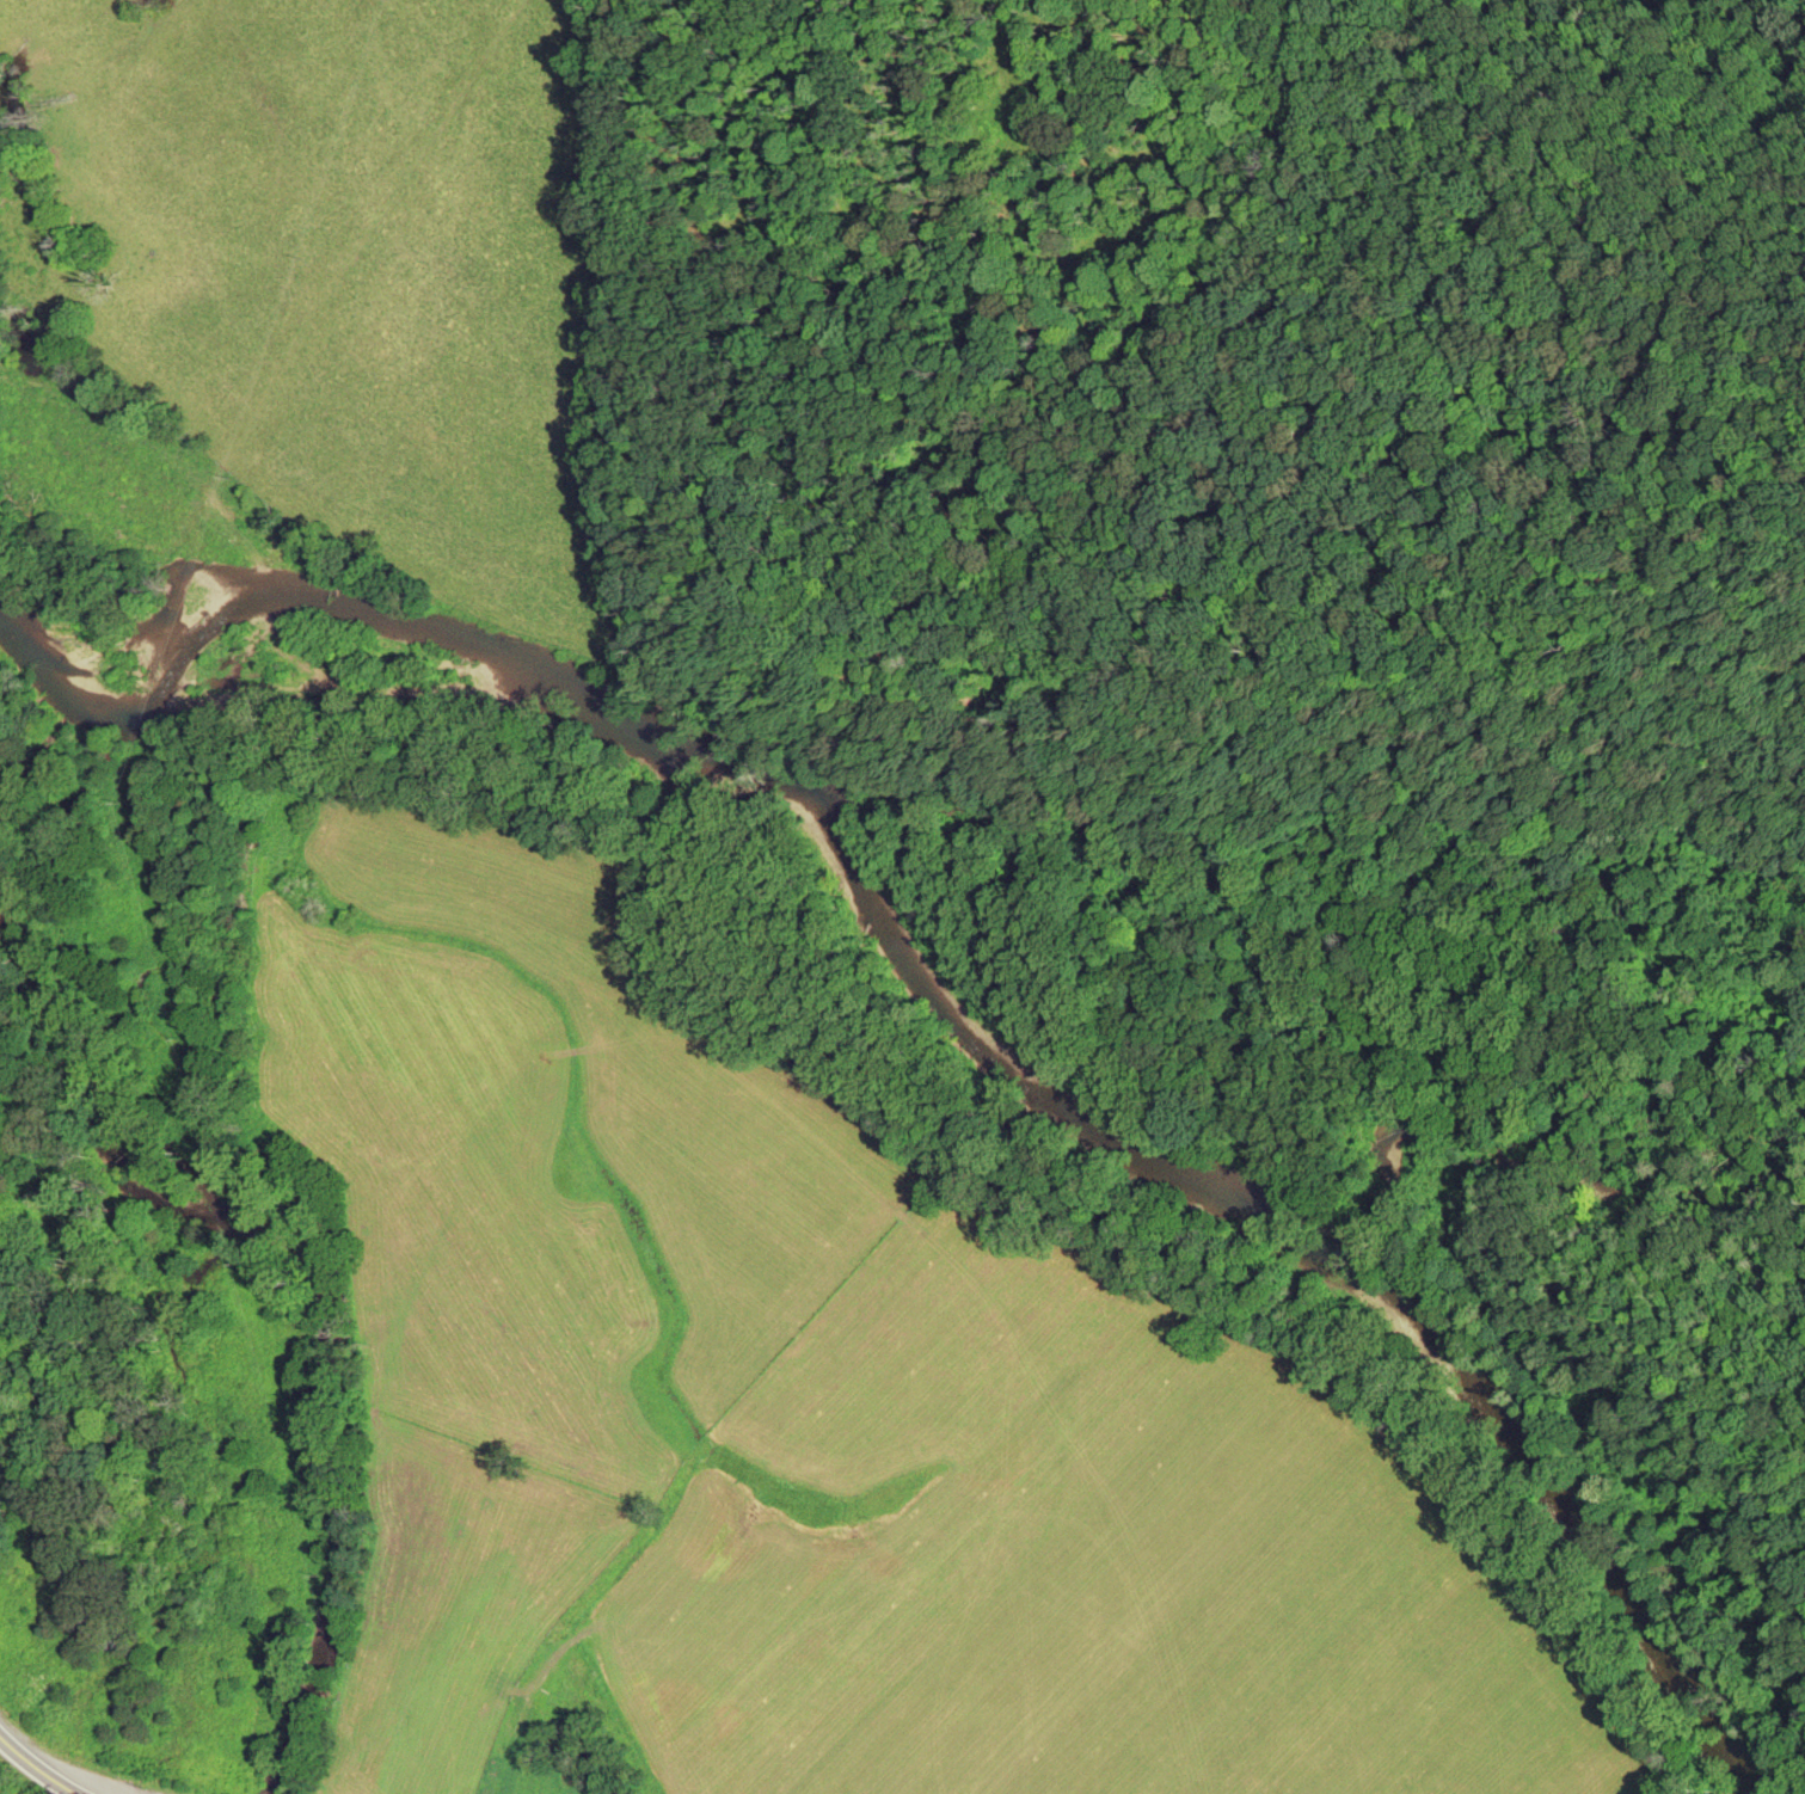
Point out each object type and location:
river: (944, 970)
road: (1198, 1064)
road: (45, 1762)

